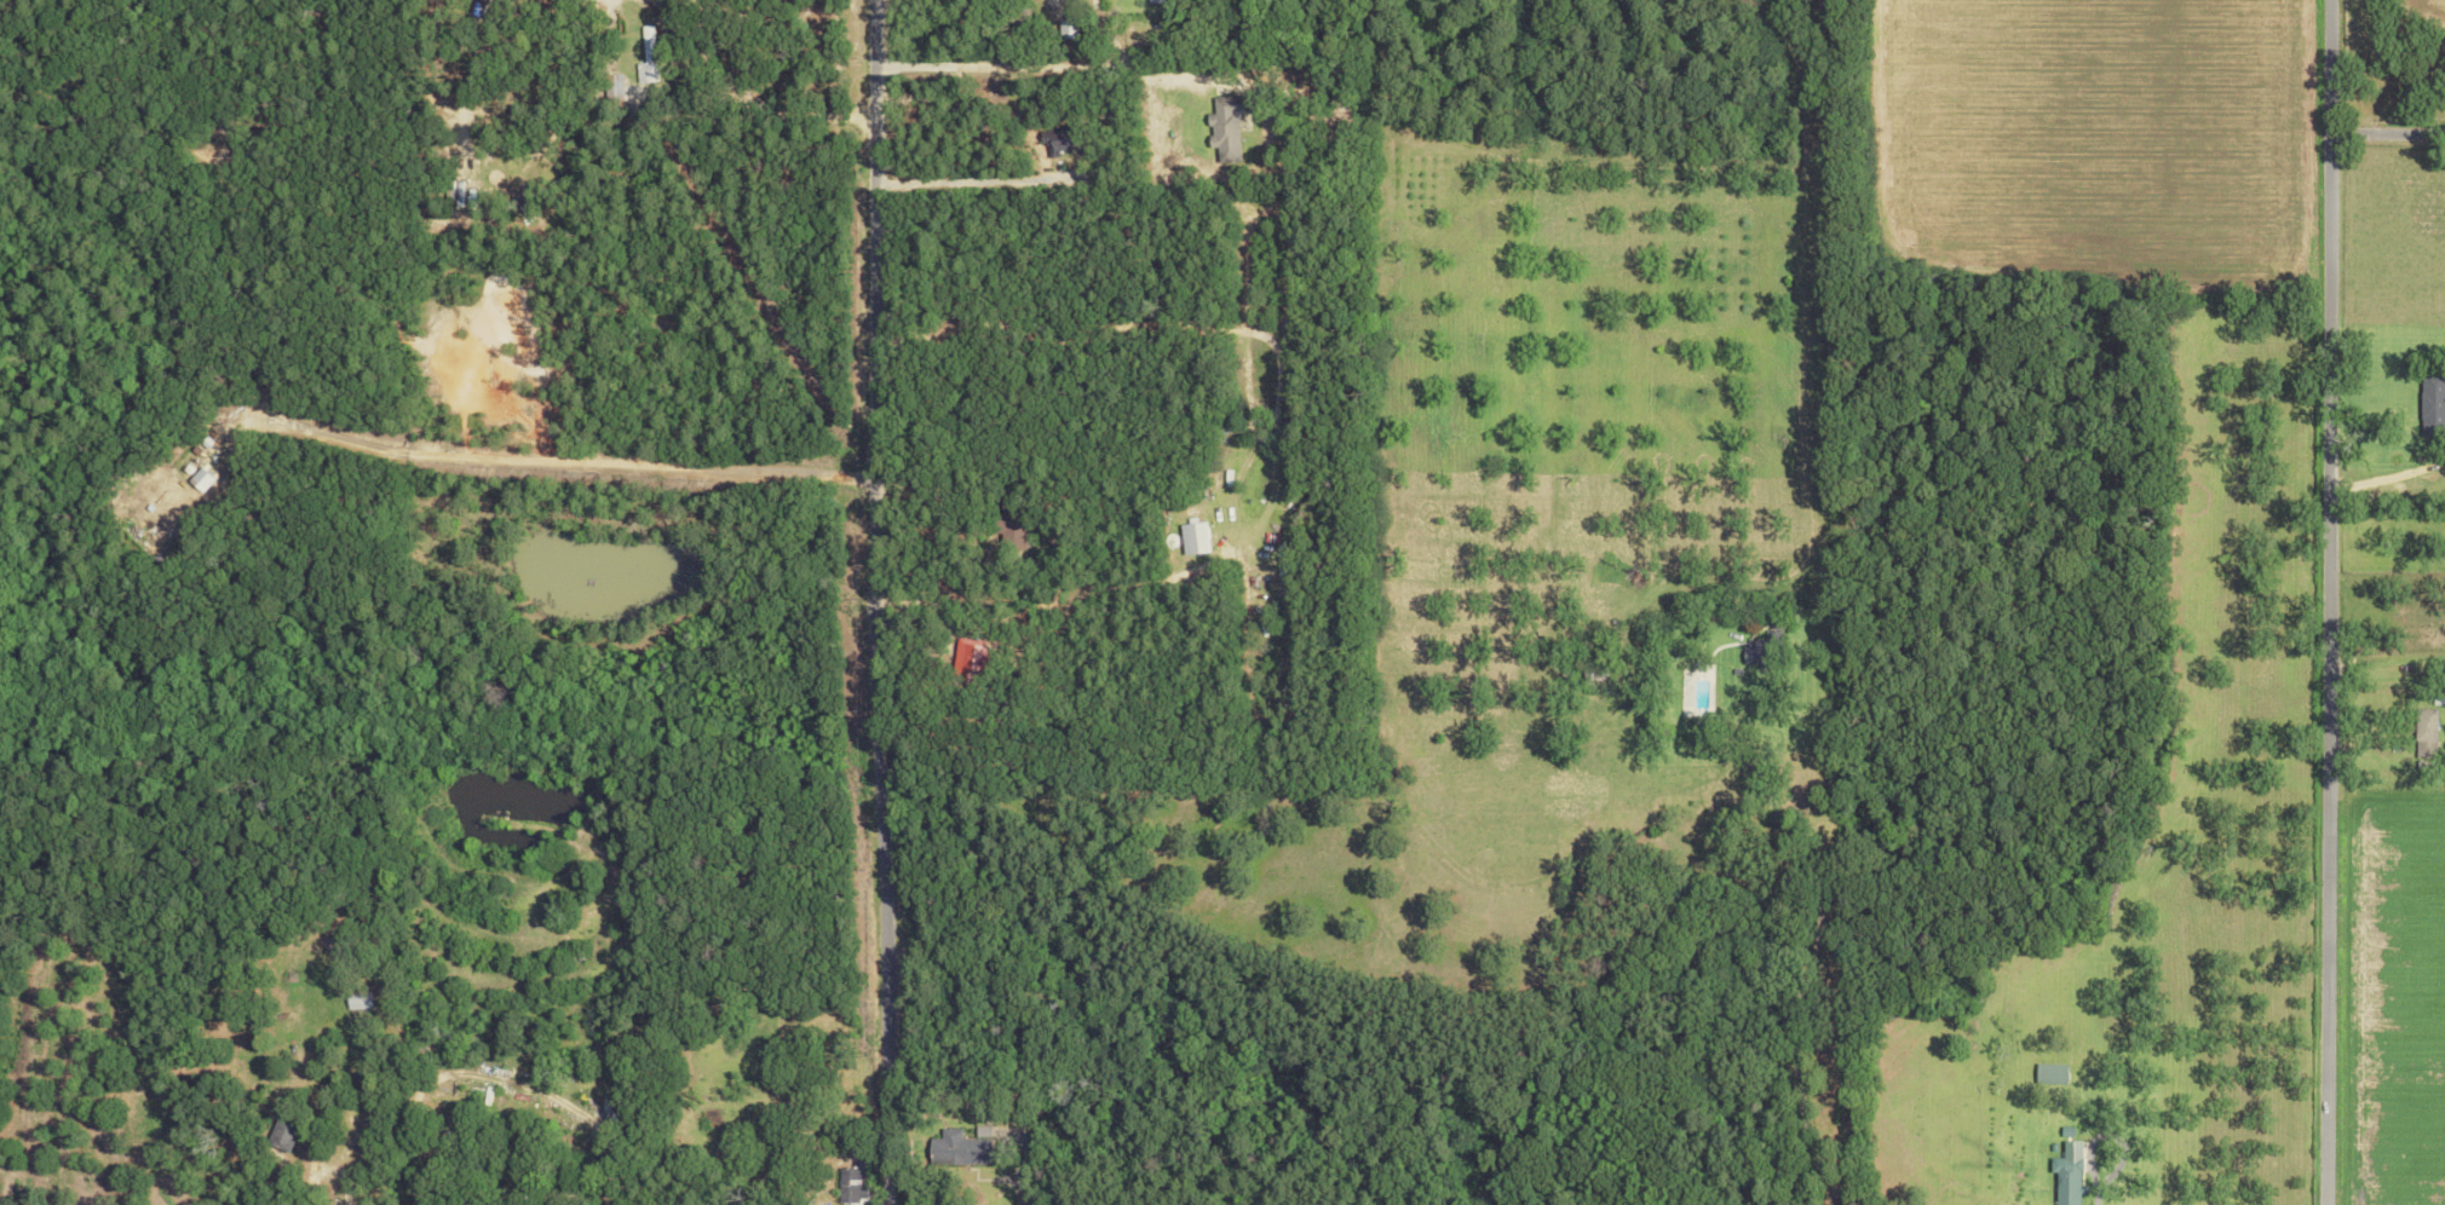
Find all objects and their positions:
building: (1154, 1)
building: (645, 57)
road: (1057, 64)
building: (611, 90)
building: (1225, 127)
building: (1059, 140)
road: (2399, 140)
road: (974, 178)
building: (2432, 404)
road: (566, 465)
building: (201, 479)
building: (154, 532)
building: (1192, 538)
road: (893, 602)
road: (2342, 602)
building: (1761, 650)
building: (2423, 732)
road: (1833, 975)
building: (356, 999)
building: (2050, 1073)
building: (278, 1135)
building: (955, 1148)
building: (2066, 1174)
building: (847, 1186)

